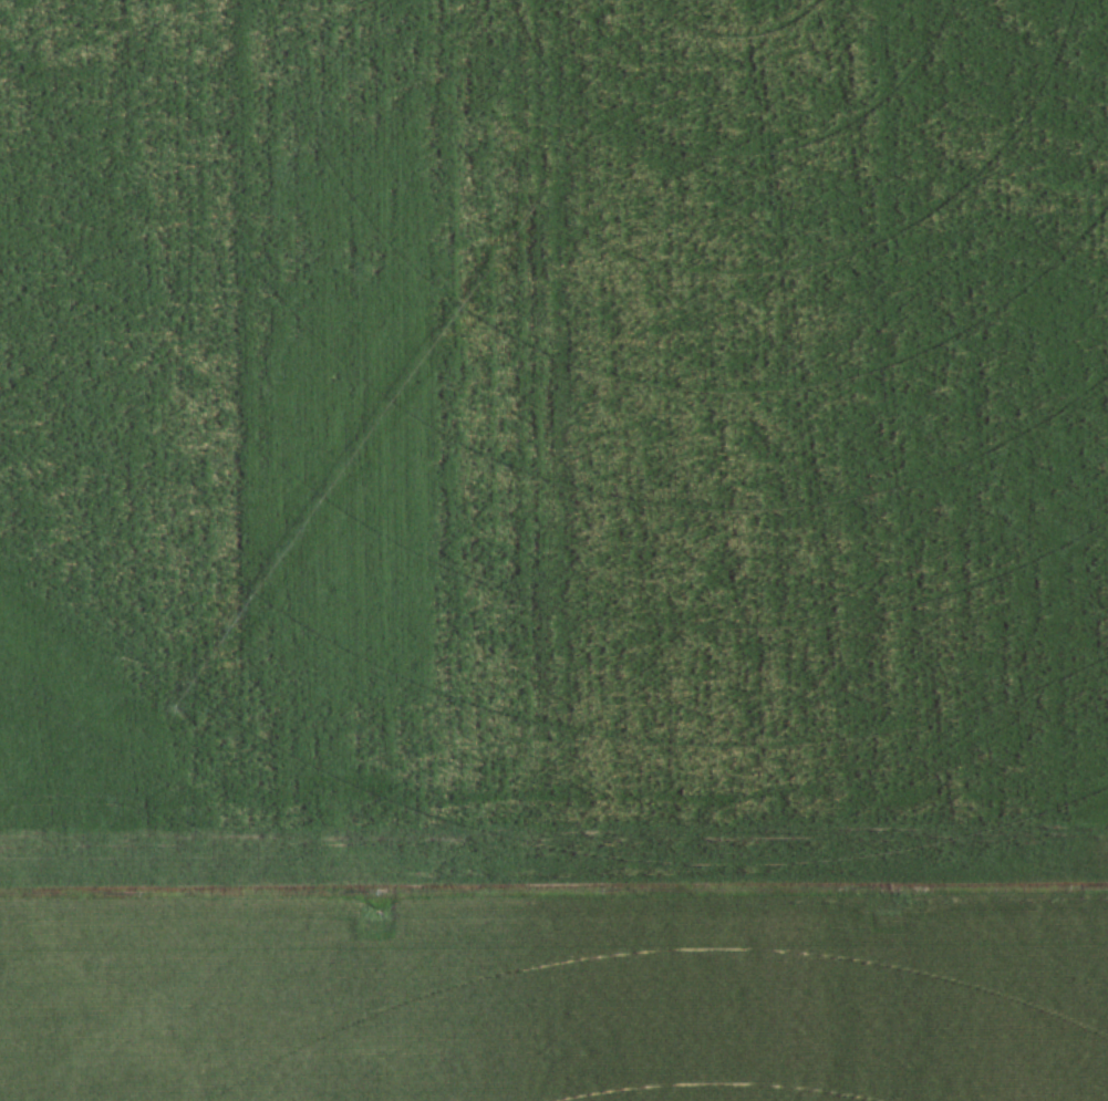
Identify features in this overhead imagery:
crop: (553, 550)

